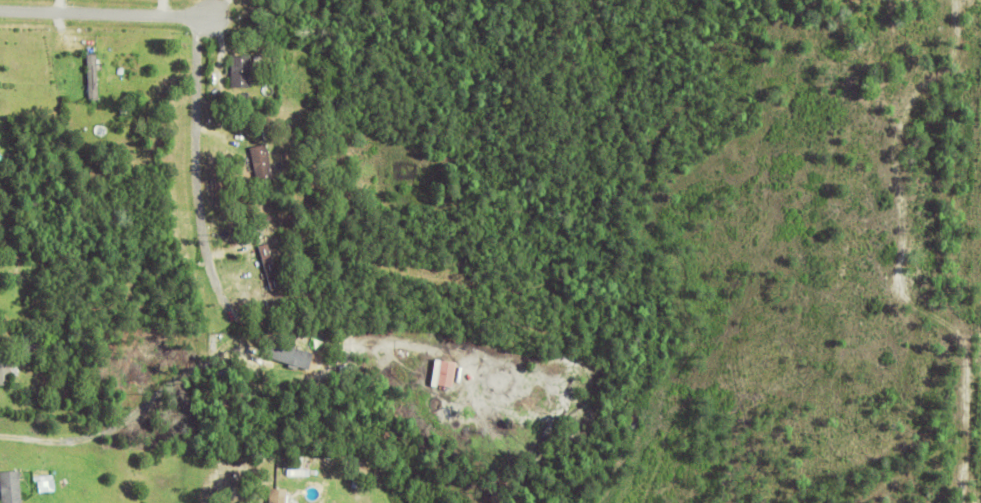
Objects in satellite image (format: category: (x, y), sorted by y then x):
road: (114, 15)
building: (242, 70)
building: (94, 74)
building: (124, 110)
building: (243, 117)
building: (268, 132)
building: (240, 140)
building: (262, 161)
road: (201, 197)
building: (260, 232)
building: (271, 264)
building: (31, 343)
building: (289, 352)
building: (7, 366)
building: (447, 372)
building: (291, 472)
building: (12, 486)
building: (279, 494)

